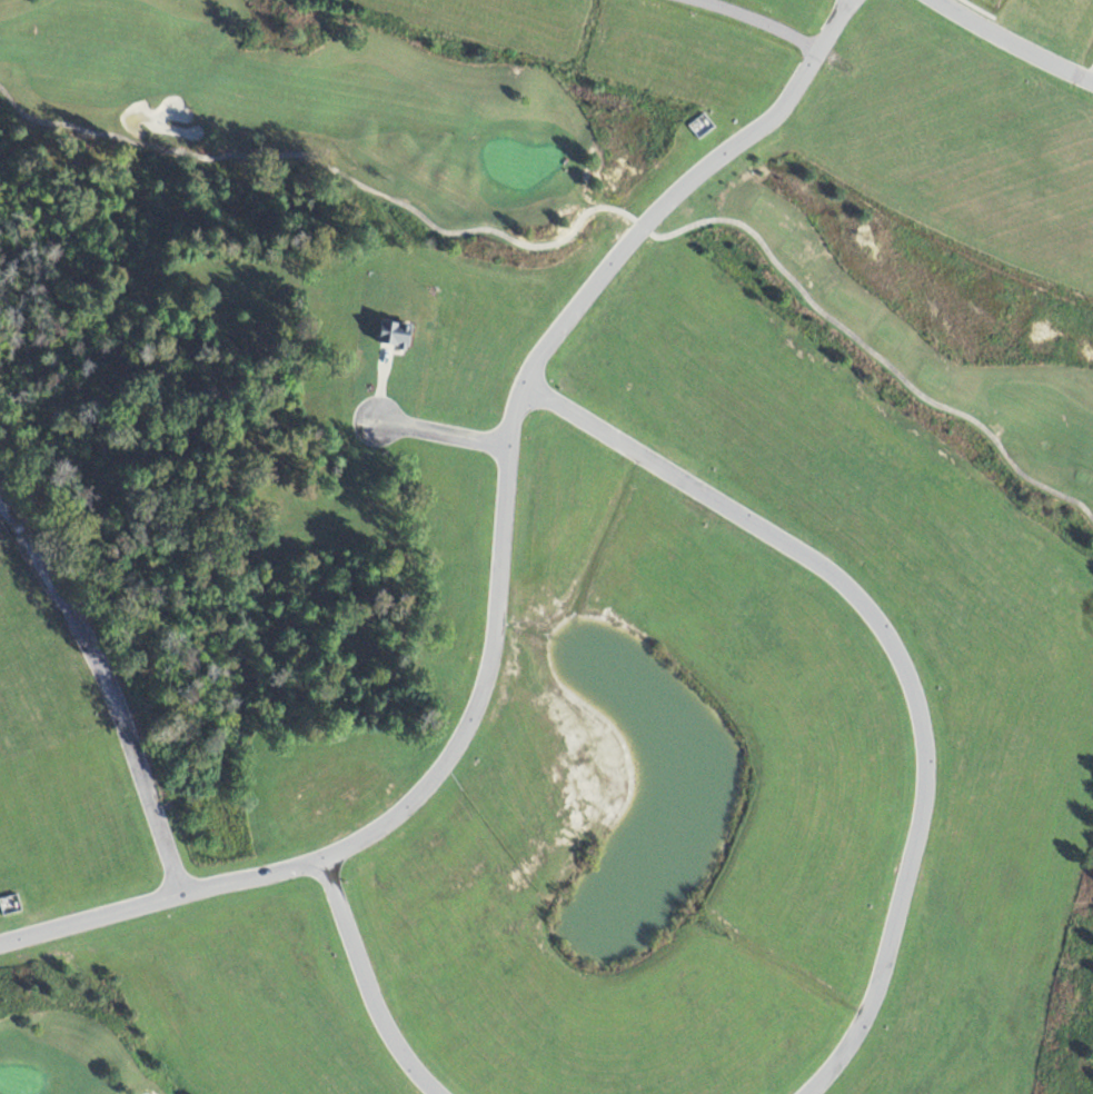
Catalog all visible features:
road: (841, 6)
road: (846, 6)
road: (749, 21)
road: (1008, 46)
road: (1089, 73)
building: (699, 126)
road: (583, 213)
building: (390, 340)
road: (377, 389)
road: (439, 434)
road: (496, 574)
road: (894, 657)
road: (107, 696)
building: (9, 904)
road: (365, 984)
park: (18, 1081)

